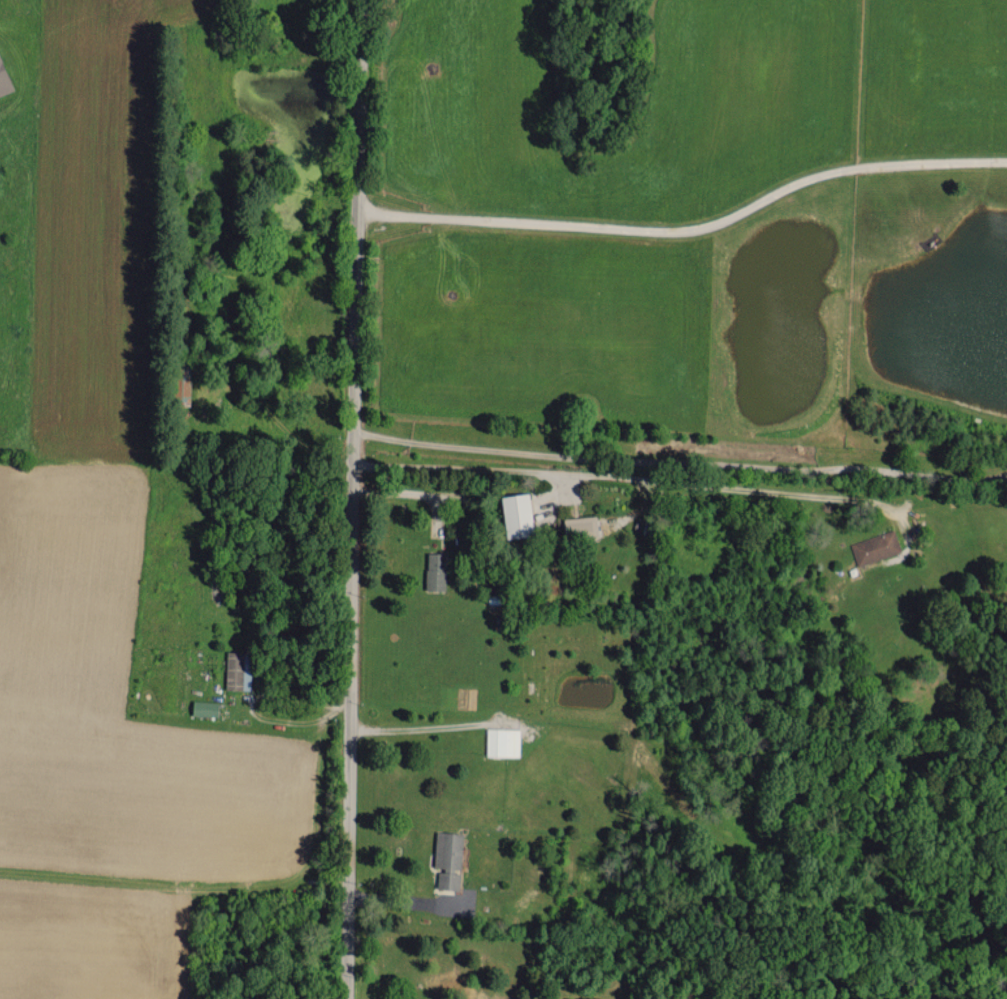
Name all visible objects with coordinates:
building: (4, 79)
road: (681, 460)
road: (631, 473)
road: (406, 490)
road: (353, 499)
building: (517, 515)
building: (580, 527)
building: (875, 547)
building: (436, 571)
building: (237, 670)
building: (204, 707)
building: (502, 741)
building: (448, 858)

